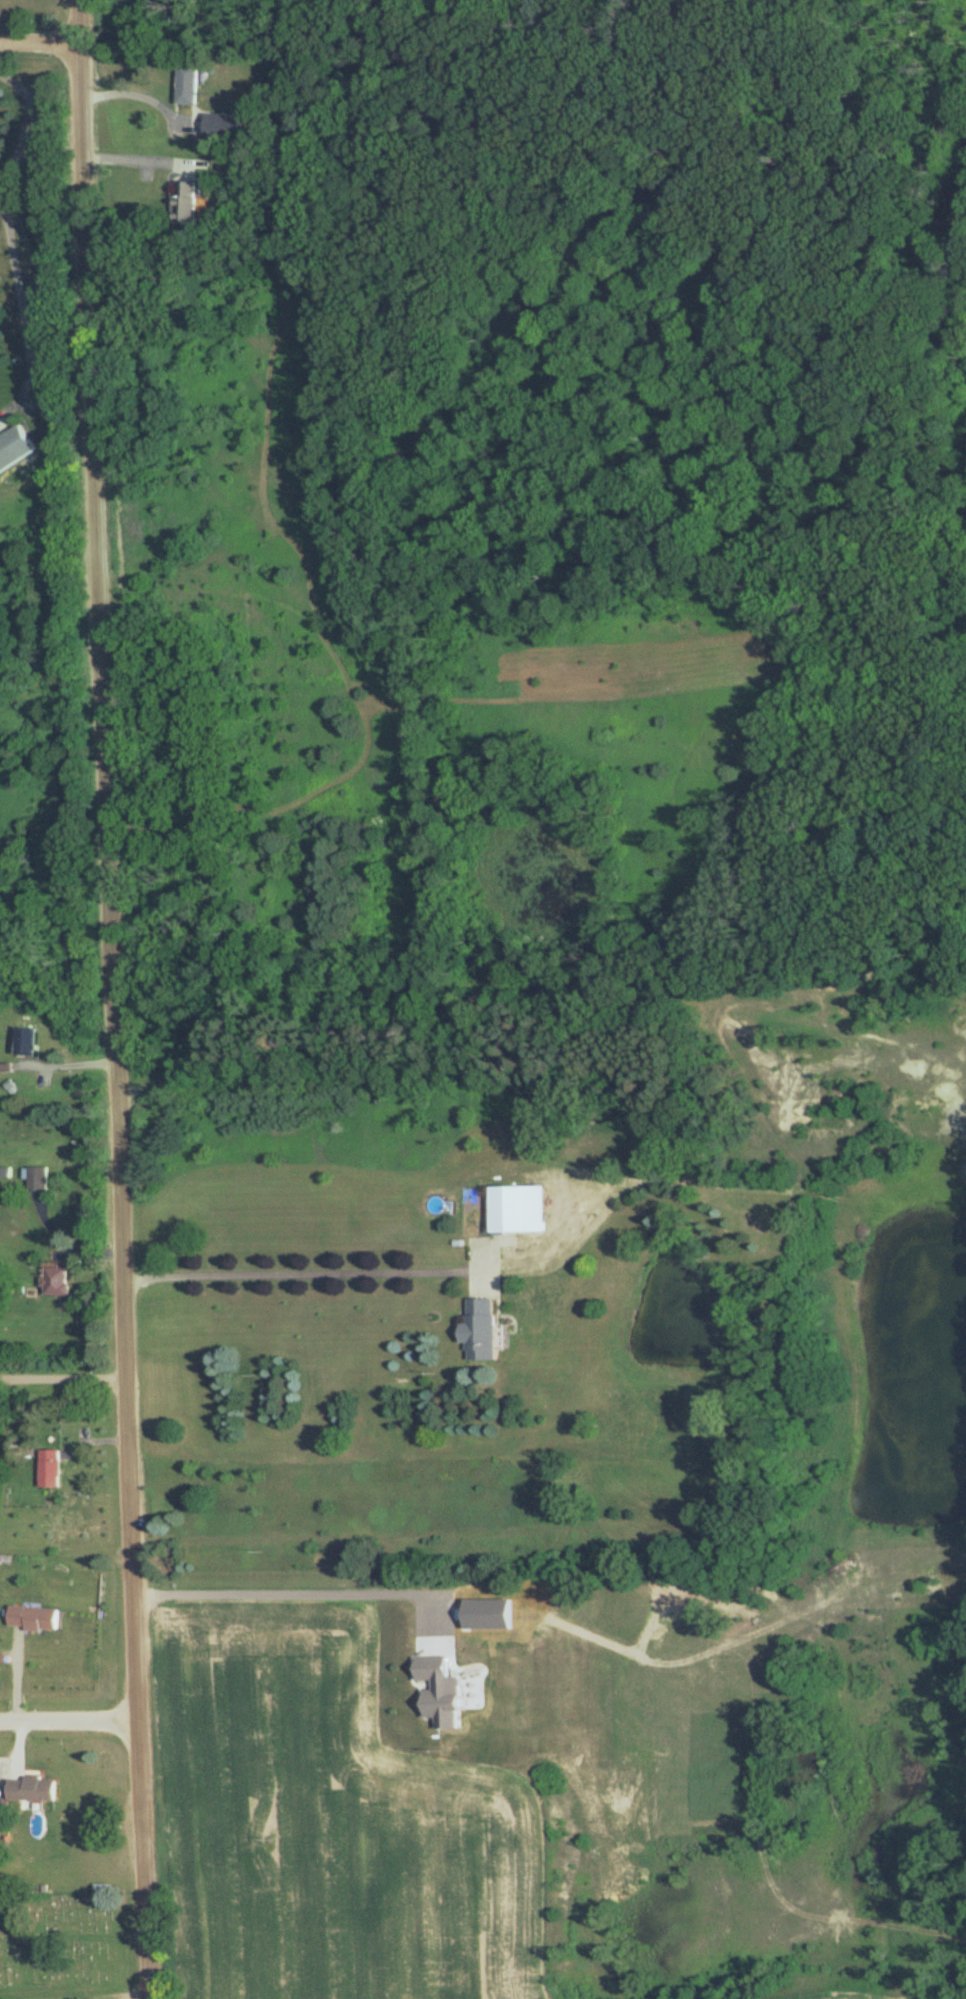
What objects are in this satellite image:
road: (39, 35)
building: (186, 85)
road: (139, 95)
building: (220, 125)
road: (140, 159)
building: (184, 201)
road: (10, 241)
building: (13, 447)
road: (438, 977)
road: (114, 999)
building: (22, 1043)
building: (5, 1172)
building: (37, 1178)
building: (515, 1208)
road: (292, 1274)
building: (55, 1281)
building: (479, 1329)
road: (63, 1379)
building: (49, 1469)
building: (19, 1555)
building: (2, 1557)
road: (306, 1591)
building: (32, 1616)
road: (18, 1676)
road: (70, 1719)
road: (21, 1745)
building: (30, 1788)
park: (67, 1937)
road: (75, 1938)
road: (76, 1996)

